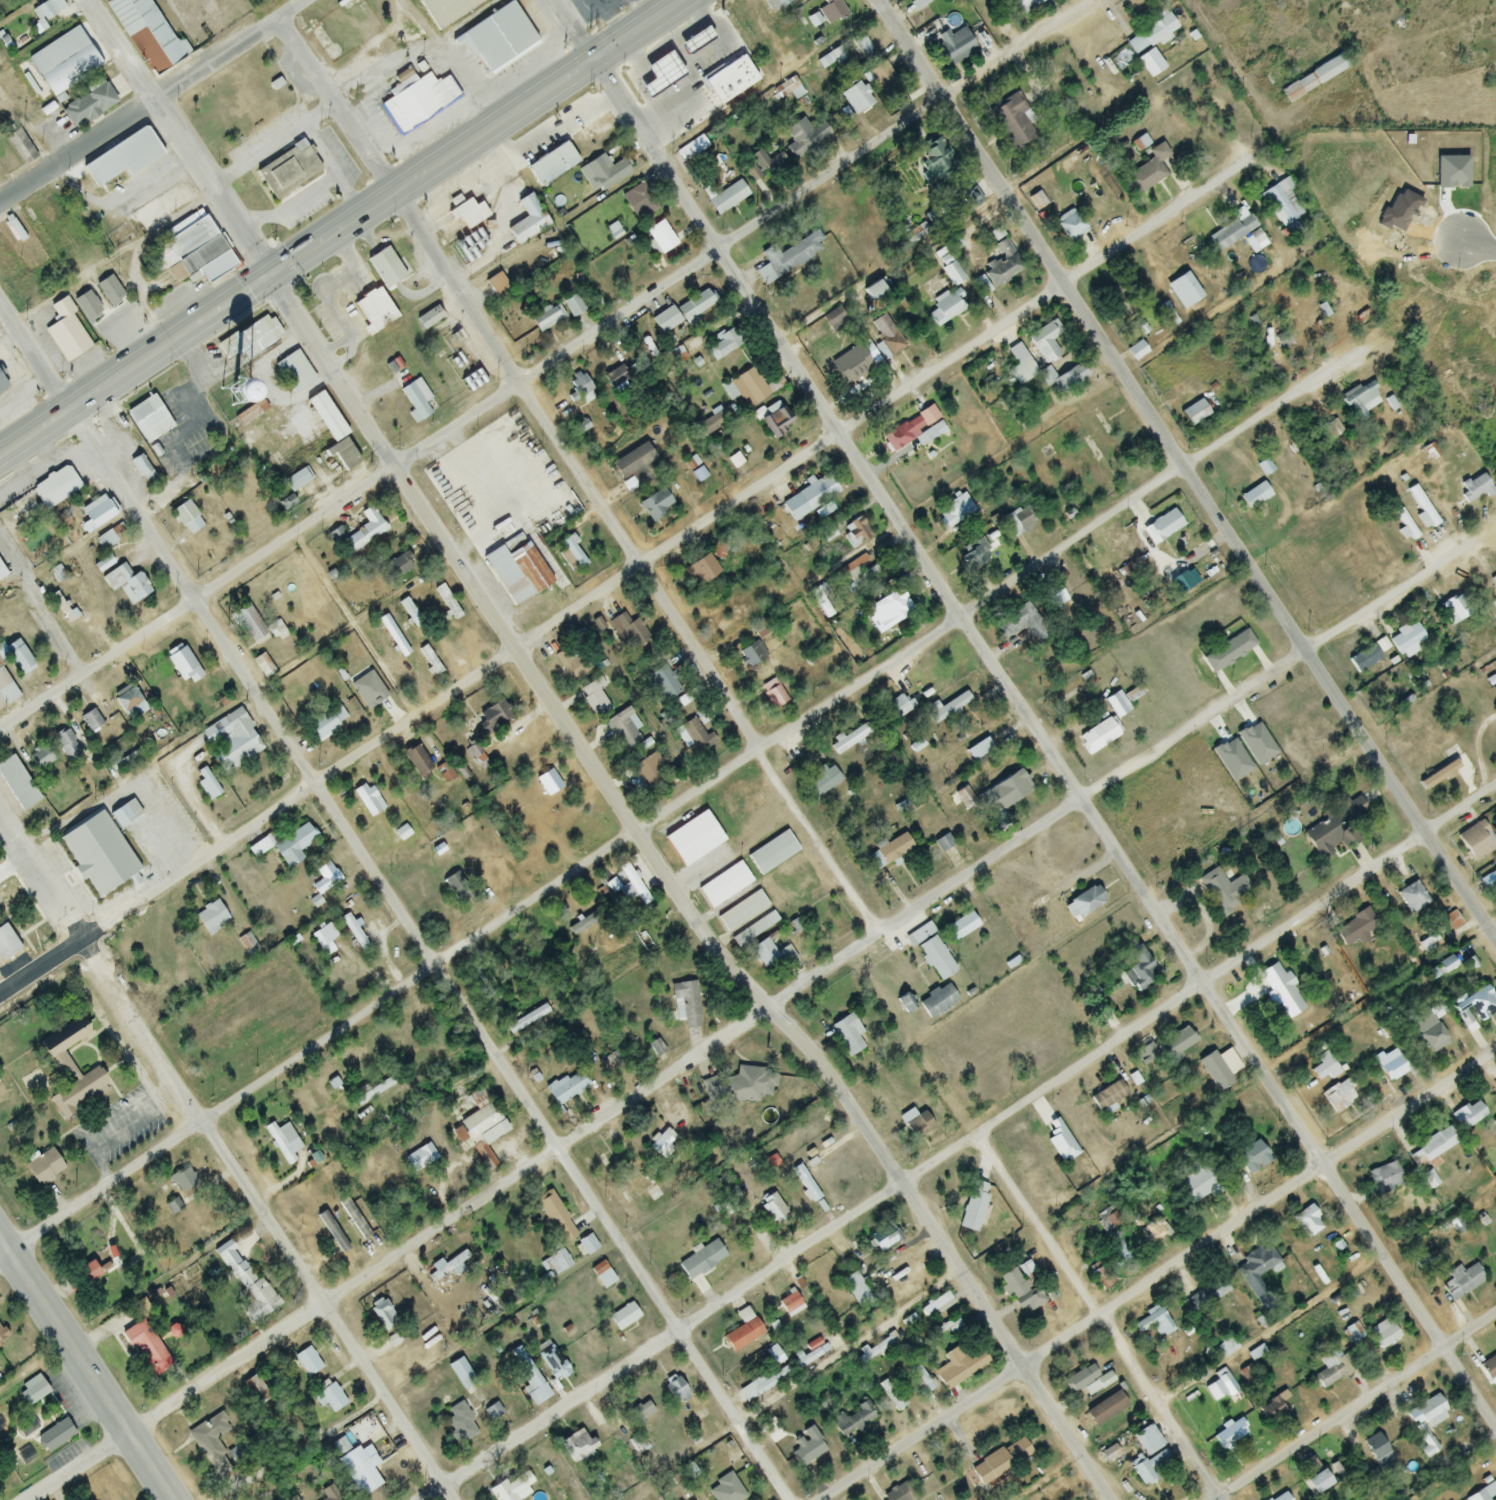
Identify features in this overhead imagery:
building: (797, 0)
building: (1028, 2)
building: (917, 4)
building: (447, 9)
building: (46, 10)
building: (830, 10)
building: (147, 35)
building: (497, 38)
building: (1149, 43)
building: (954, 47)
building: (861, 48)
building: (829, 59)
building: (64, 62)
building: (654, 72)
building: (884, 79)
building: (1313, 79)
building: (855, 98)
building: (416, 99)
road: (152, 101)
building: (90, 103)
building: (1217, 105)
building: (692, 113)
building: (1011, 121)
building: (804, 136)
road: (324, 153)
road: (256, 154)
building: (122, 156)
building: (554, 163)
building: (761, 167)
building: (1149, 170)
building: (285, 172)
building: (641, 196)
building: (727, 198)
building: (1282, 203)
road: (292, 209)
building: (467, 213)
building: (527, 220)
building: (1070, 225)
road: (343, 230)
building: (919, 232)
building: (1232, 232)
road: (1477, 244)
building: (193, 255)
building: (789, 255)
building: (387, 266)
building: (1002, 266)
traffic signals: (270, 278)
building: (496, 286)
building: (1186, 289)
building: (108, 290)
building: (872, 291)
building: (1119, 301)
building: (86, 306)
building: (572, 306)
building: (374, 310)
building: (684, 310)
building: (833, 318)
building: (546, 320)
building: (1299, 326)
building: (65, 332)
building: (886, 335)
building: (250, 339)
building: (724, 342)
building: (1045, 342)
building: (1136, 351)
road: (544, 360)
building: (1019, 365)
building: (295, 370)
building: (1064, 378)
building: (753, 388)
water tower: (227, 393)
building: (416, 401)
building: (1360, 401)
building: (253, 411)
building: (1194, 413)
building: (323, 414)
road: (359, 416)
building: (150, 417)
building: (773, 421)
building: (913, 431)
building: (495, 432)
building: (634, 469)
road: (1187, 471)
building: (544, 478)
road: (577, 478)
building: (296, 481)
building: (55, 487)
building: (1474, 489)
building: (1254, 497)
building: (809, 499)
building: (655, 505)
building: (1421, 510)
building: (953, 512)
building: (98, 516)
building: (186, 518)
building: (1018, 520)
building: (1405, 525)
building: (1162, 527)
building: (362, 532)
building: (855, 534)
building: (105, 540)
building: (976, 554)
building: (1100, 562)
building: (699, 570)
building: (503, 573)
road: (625, 574)
building: (1, 575)
building: (860, 579)
building: (1493, 581)
building: (126, 584)
building: (1055, 594)
road: (40, 602)
building: (446, 603)
building: (890, 608)
building: (1453, 611)
building: (409, 612)
road: (352, 623)
building: (248, 624)
building: (627, 633)
building: (1406, 640)
building: (1229, 652)
building: (750, 654)
building: (1363, 658)
building: (573, 659)
building: (180, 662)
building: (263, 666)
building: (665, 683)
building: (6, 692)
building: (772, 694)
building: (593, 697)
building: (683, 701)
building: (128, 703)
building: (1117, 705)
building: (897, 707)
building: (948, 708)
road: (1025, 712)
building: (325, 725)
building: (622, 730)
building: (695, 731)
building: (1313, 733)
building: (1098, 737)
building: (848, 740)
building: (235, 741)
building: (67, 746)
building: (979, 750)
building: (1452, 755)
building: (39, 758)
building: (417, 761)
building: (651, 771)
building: (822, 781)
building: (17, 783)
building: (548, 783)
building: (1003, 795)
road: (682, 798)
building: (736, 800)
building: (365, 802)
building: (121, 816)
building: (1333, 829)
building: (693, 839)
building: (1476, 841)
building: (292, 844)
building: (893, 849)
building: (772, 853)
building: (97, 854)
building: (1494, 873)
road: (701, 878)
building: (324, 880)
building: (724, 885)
building: (627, 887)
building: (1222, 892)
building: (1412, 898)
building: (1085, 902)
road: (390, 909)
building: (741, 912)
building: (960, 927)
building: (1357, 929)
building: (749, 933)
building: (357, 939)
building: (6, 944)
building: (931, 952)
building: (771, 956)
building: (1135, 969)
building: (1285, 996)
road: (1374, 1000)
building: (936, 1002)
building: (905, 1003)
building: (688, 1005)
building: (1474, 1007)
road: (752, 1020)
building: (847, 1035)
building: (1431, 1035)
building: (1174, 1046)
building: (1218, 1069)
building: (69, 1073)
building: (742, 1086)
building: (565, 1087)
building: (1107, 1096)
building: (1337, 1097)
building: (1468, 1115)
building: (915, 1124)
building: (483, 1132)
building: (283, 1141)
building: (661, 1142)
road: (959, 1145)
building: (425, 1155)
building: (1430, 1156)
road: (880, 1157)
building: (1250, 1157)
road: (223, 1158)
building: (39, 1172)
building: (1053, 1178)
building: (1384, 1178)
building: (183, 1181)
building: (1199, 1184)
building: (973, 1206)
building: (771, 1207)
building: (554, 1217)
building: (1307, 1222)
building: (1154, 1229)
building: (332, 1232)
building: (882, 1238)
building: (587, 1245)
building: (1118, 1257)
building: (701, 1260)
building: (557, 1261)
building: (1258, 1267)
building: (85, 1272)
road: (1158, 1273)
building: (1101, 1277)
building: (245, 1278)
building: (605, 1279)
building: (1461, 1281)
building: (855, 1289)
building: (1020, 1291)
road: (1326, 1294)
building: (789, 1304)
building: (935, 1306)
building: (446, 1313)
building: (383, 1315)
building: (623, 1317)
road: (1097, 1317)
building: (1150, 1322)
building: (1353, 1332)
building: (1383, 1334)
building: (1226, 1346)
building: (145, 1347)
building: (873, 1349)
building: (307, 1362)
building: (552, 1364)
building: (961, 1364)
road: (35, 1369)
road: (85, 1369)
building: (1327, 1372)
building: (460, 1373)
building: (1087, 1381)
building: (1225, 1383)
building: (529, 1384)
building: (761, 1384)
building: (253, 1390)
building: (32, 1391)
building: (676, 1391)
building: (891, 1395)
building: (329, 1398)
road: (1354, 1405)
building: (1105, 1409)
building: (1428, 1409)
building: (642, 1412)
building: (1272, 1413)
building: (852, 1420)
building: (460, 1422)
building: (1229, 1433)
building: (54, 1436)
building: (1146, 1441)
building: (210, 1443)
building: (576, 1445)
building: (804, 1449)
building: (1377, 1450)
building: (353, 1462)
building: (1000, 1462)
building: (1148, 1467)
building: (1315, 1481)
building: (510, 1486)
building: (725, 1489)
building: (900, 1493)
building: (1281, 1497)

